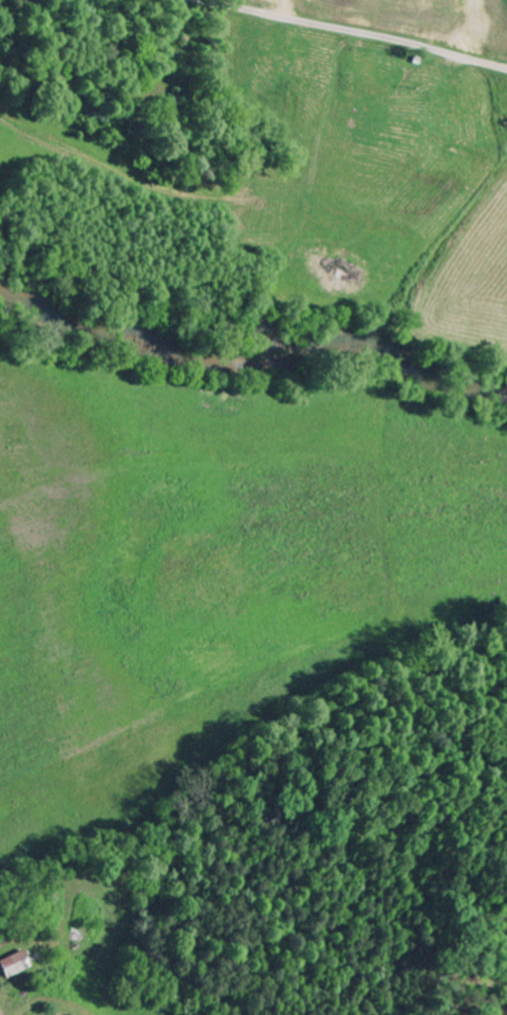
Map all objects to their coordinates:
road: (362, 32)
river: (251, 345)
building: (14, 965)
building: (0, 1013)

